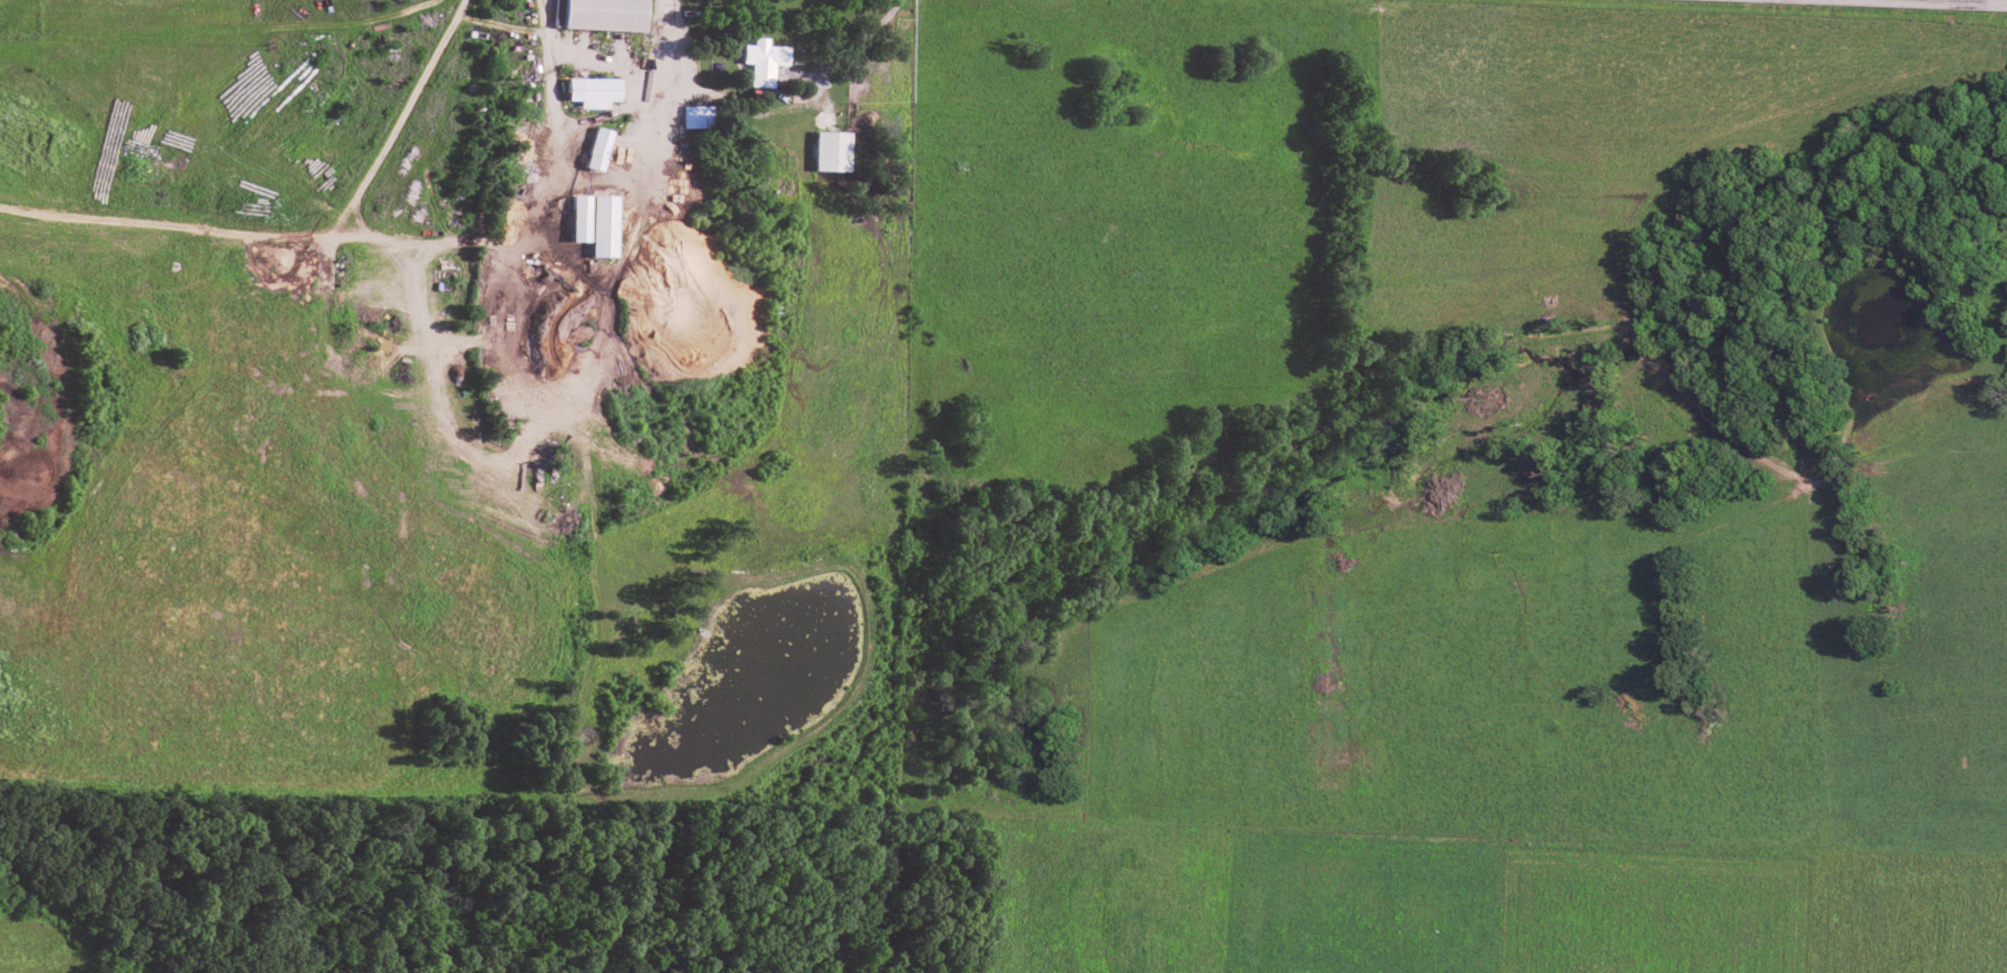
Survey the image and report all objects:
road: (1966, 1)
building: (603, 13)
building: (763, 59)
building: (592, 89)
building: (697, 114)
building: (832, 149)
road: (600, 177)
building: (605, 223)
road: (294, 234)

